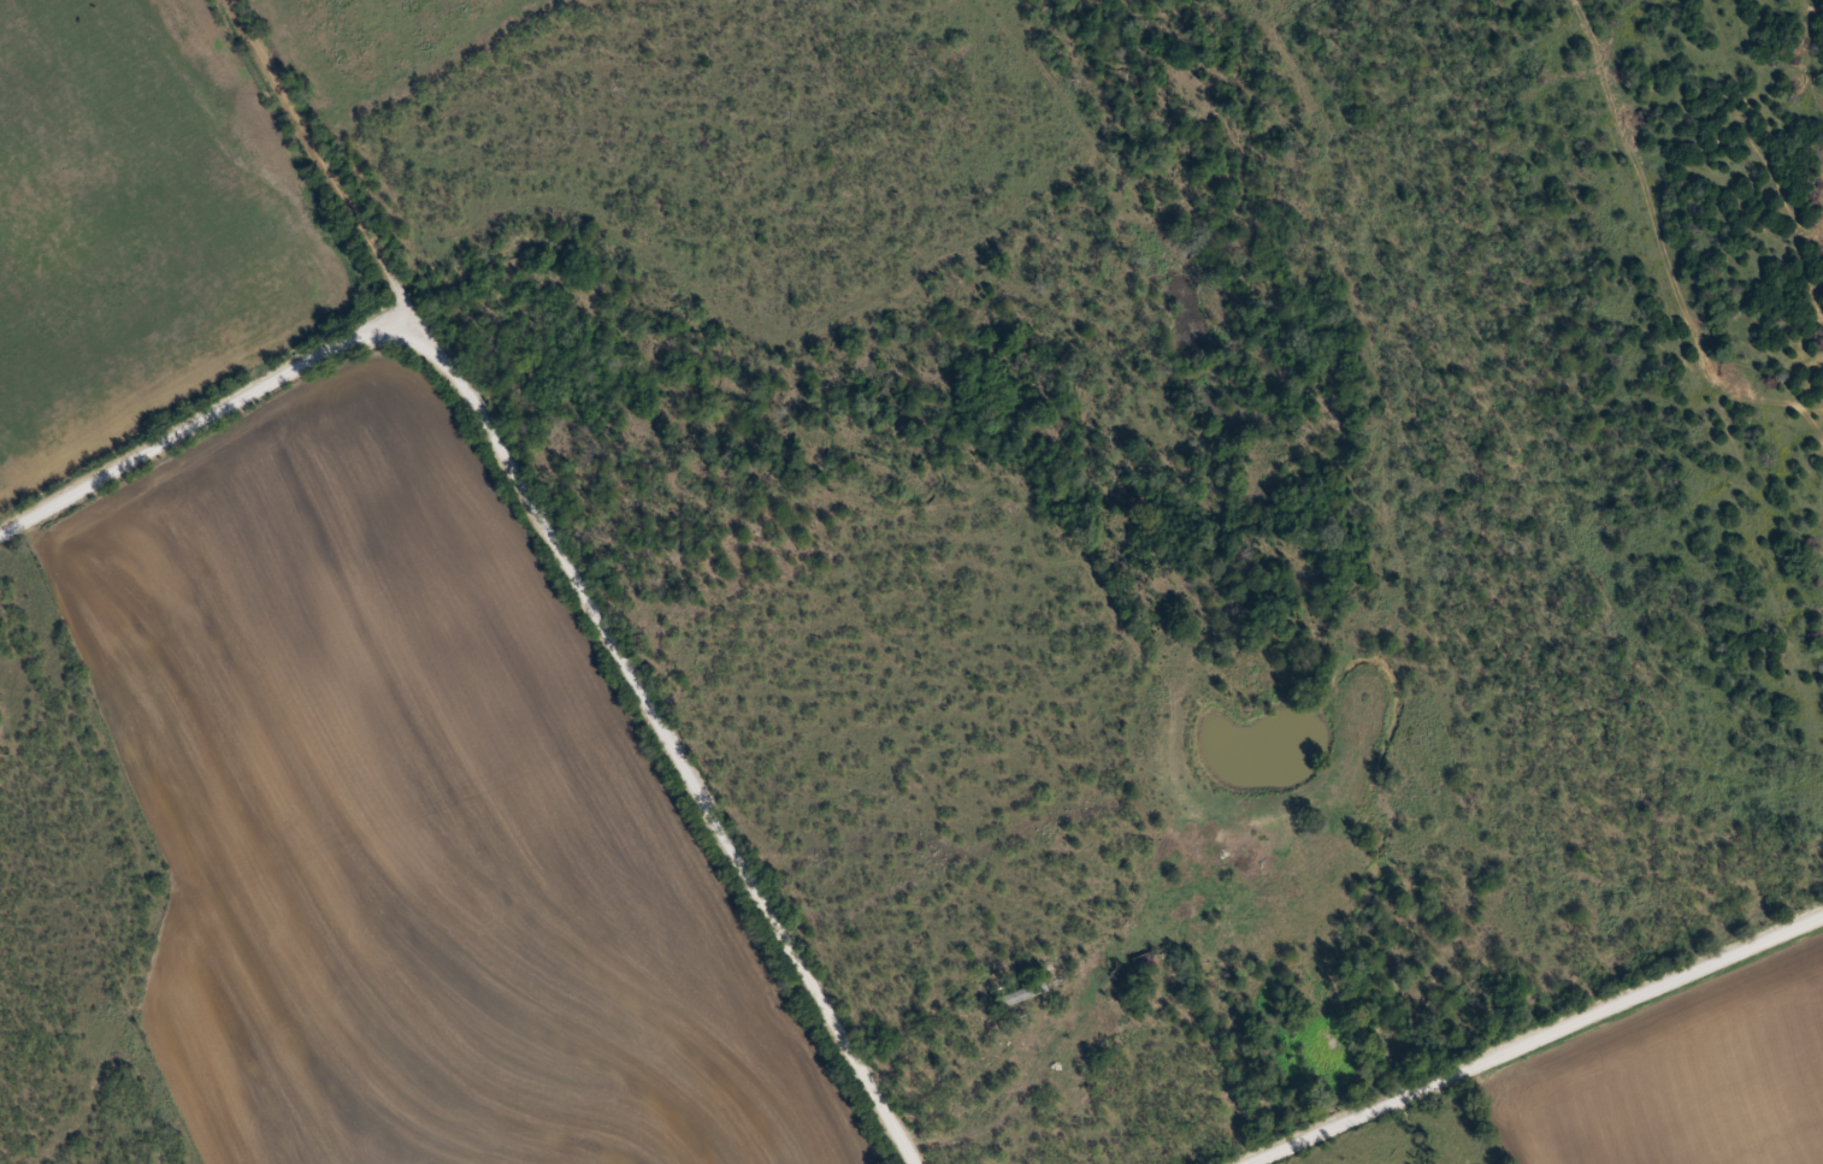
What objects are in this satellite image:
road: (332, 176)
building: (14, 188)
road: (553, 543)
building: (1026, 992)
road: (1526, 1033)

